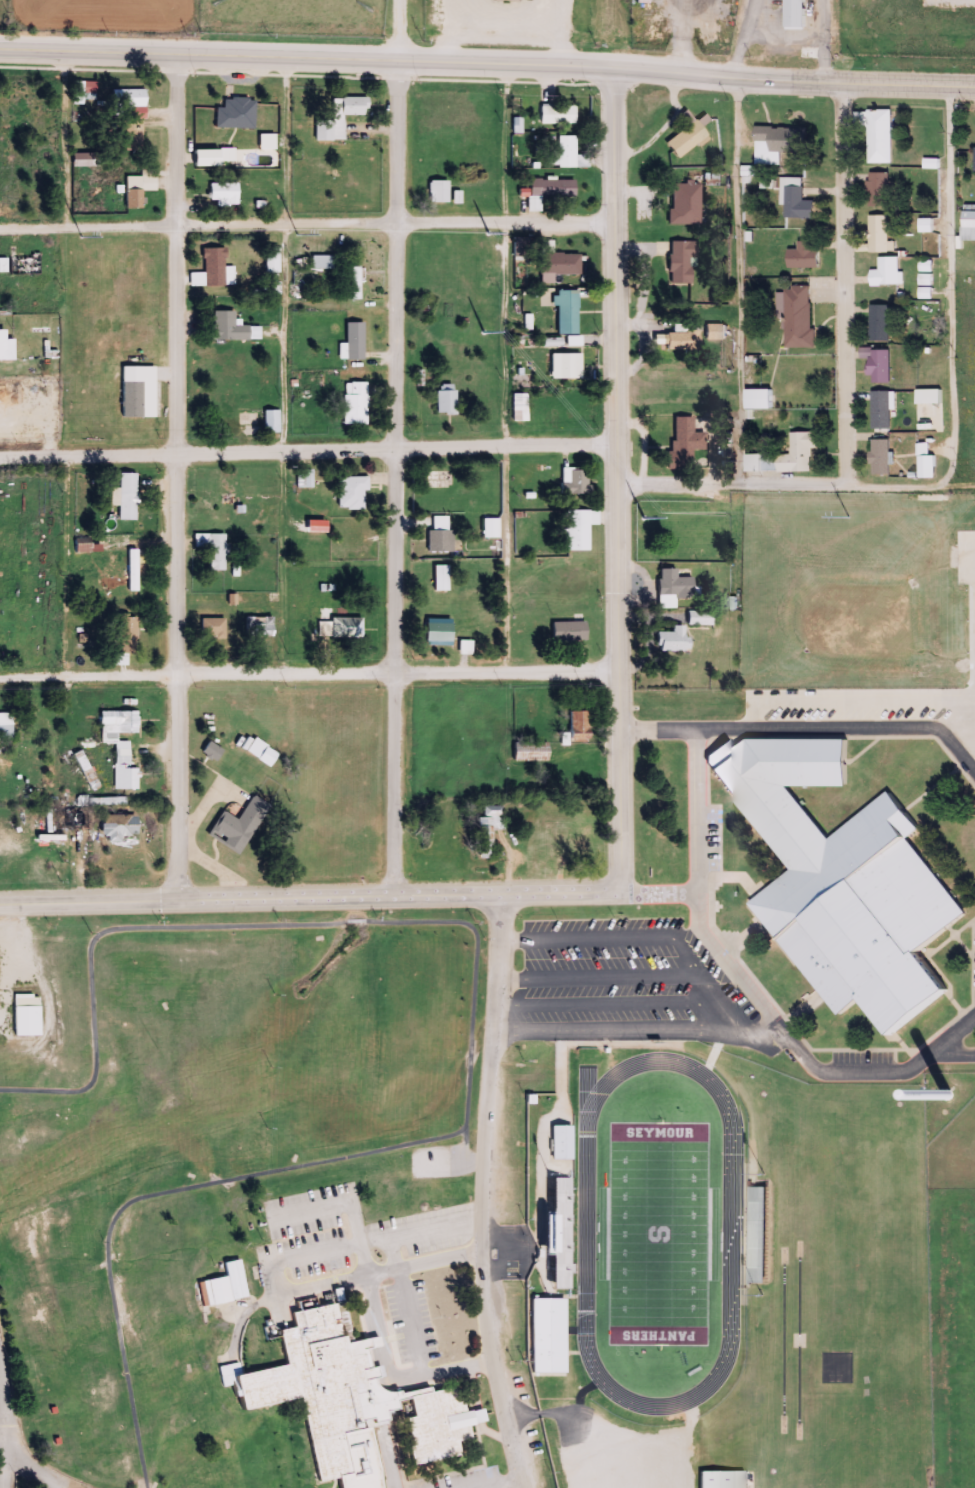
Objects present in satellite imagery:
building: (790, 14)
road: (401, 35)
road: (346, 68)
road: (834, 84)
building: (91, 85)
building: (132, 96)
building: (24, 106)
building: (233, 113)
building: (554, 114)
building: (336, 118)
building: (875, 136)
building: (138, 137)
building: (683, 140)
building: (776, 140)
road: (65, 142)
building: (263, 142)
road: (506, 149)
building: (563, 152)
building: (209, 157)
building: (972, 159)
building: (141, 187)
building: (550, 188)
building: (875, 190)
building: (435, 191)
building: (221, 193)
building: (792, 200)
building: (683, 204)
road: (198, 223)
road: (506, 224)
building: (876, 235)
building: (797, 252)
building: (269, 260)
building: (318, 262)
building: (678, 262)
building: (21, 264)
building: (556, 264)
building: (211, 270)
building: (882, 273)
building: (352, 283)
road: (737, 284)
road: (844, 285)
building: (271, 288)
building: (564, 312)
building: (794, 317)
building: (875, 323)
building: (228, 328)
building: (712, 332)
road: (949, 334)
road: (507, 336)
building: (351, 340)
building: (676, 340)
building: (7, 346)
building: (872, 364)
building: (562, 366)
building: (135, 391)
building: (443, 398)
building: (752, 399)
building: (352, 403)
building: (517, 407)
building: (876, 410)
building: (269, 421)
building: (684, 439)
road: (284, 450)
road: (308, 450)
building: (787, 455)
building: (876, 457)
building: (301, 478)
building: (438, 479)
road: (179, 480)
building: (573, 481)
road: (397, 482)
road: (618, 485)
road: (732, 486)
building: (348, 493)
building: (130, 495)
building: (488, 527)
building: (577, 529)
building: (437, 534)
road: (968, 540)
building: (89, 544)
building: (214, 548)
road: (505, 560)
road: (65, 567)
building: (135, 569)
building: (439, 578)
building: (670, 588)
building: (262, 627)
building: (337, 628)
building: (1, 631)
building: (215, 631)
building: (565, 632)
building: (130, 635)
building: (668, 640)
building: (462, 647)
road: (309, 675)
road: (847, 699)
building: (6, 719)
building: (580, 726)
road: (797, 730)
building: (123, 745)
building: (260, 750)
building: (213, 751)
building: (531, 752)
building: (240, 825)
building: (490, 829)
building: (841, 883)
road: (661, 892)
road: (310, 896)
road: (642, 938)
road: (598, 977)
road: (752, 992)
road: (606, 1005)
building: (28, 1015)
road: (638, 1032)
road: (471, 1036)
road: (951, 1053)
park: (201, 1127)
building: (563, 1144)
road: (483, 1193)
park: (658, 1233)
building: (560, 1235)
building: (757, 1235)
building: (214, 1290)
road: (376, 1323)
building: (549, 1336)
building: (317, 1395)
building: (426, 1420)
road: (8, 1431)
road: (35, 1467)
building: (723, 1480)

